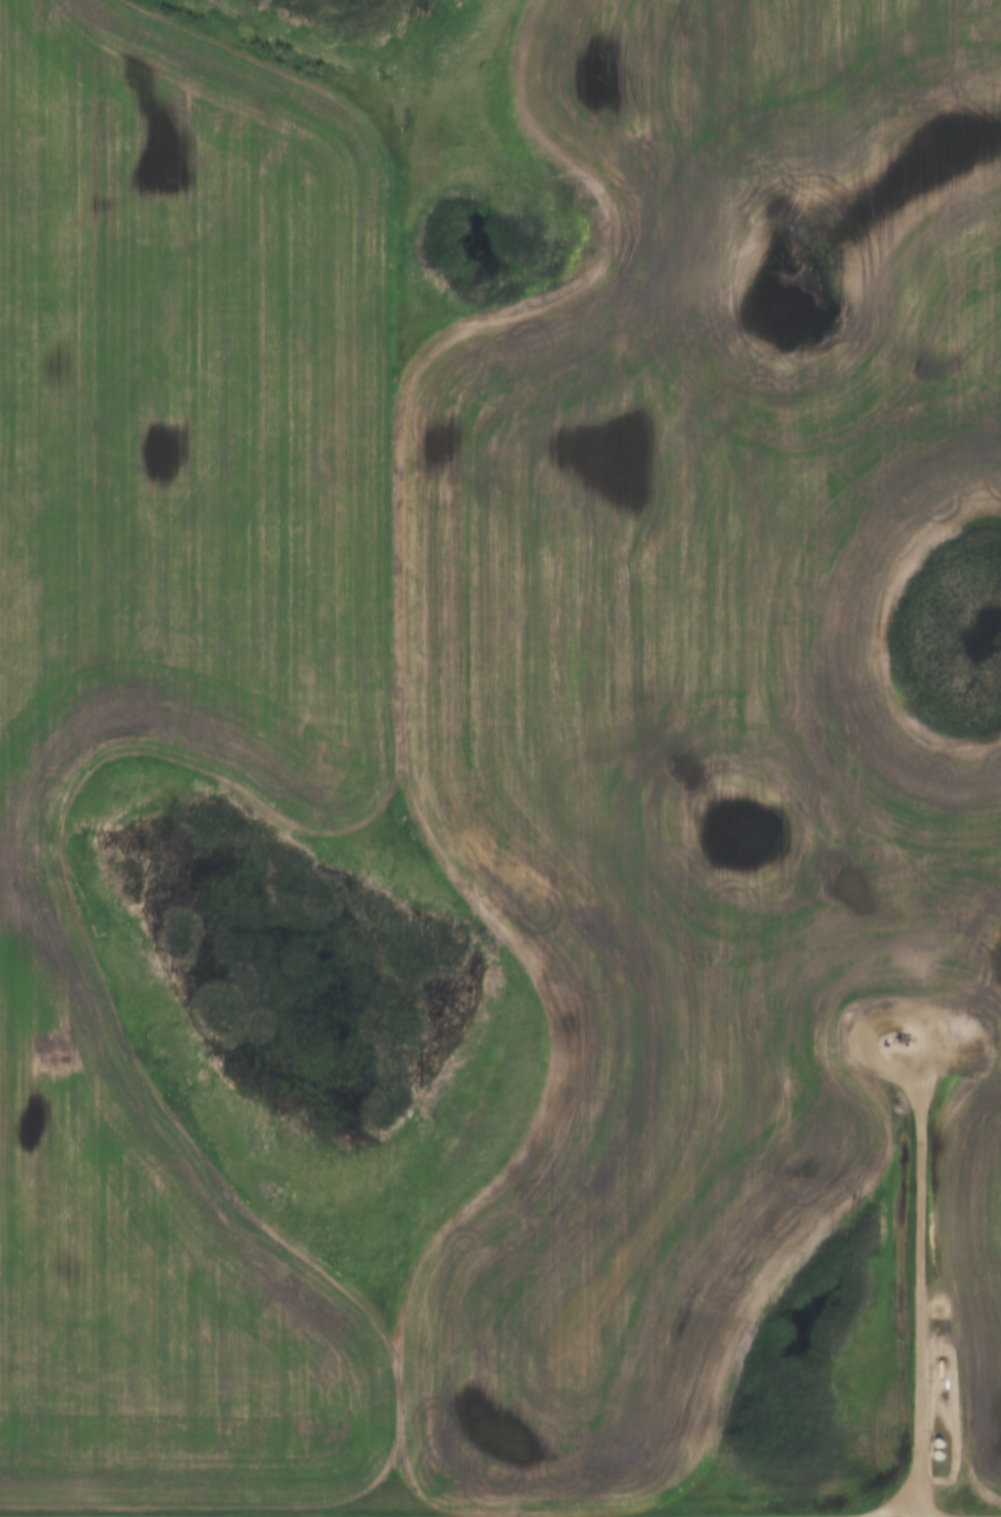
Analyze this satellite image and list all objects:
road: (917, 1268)

